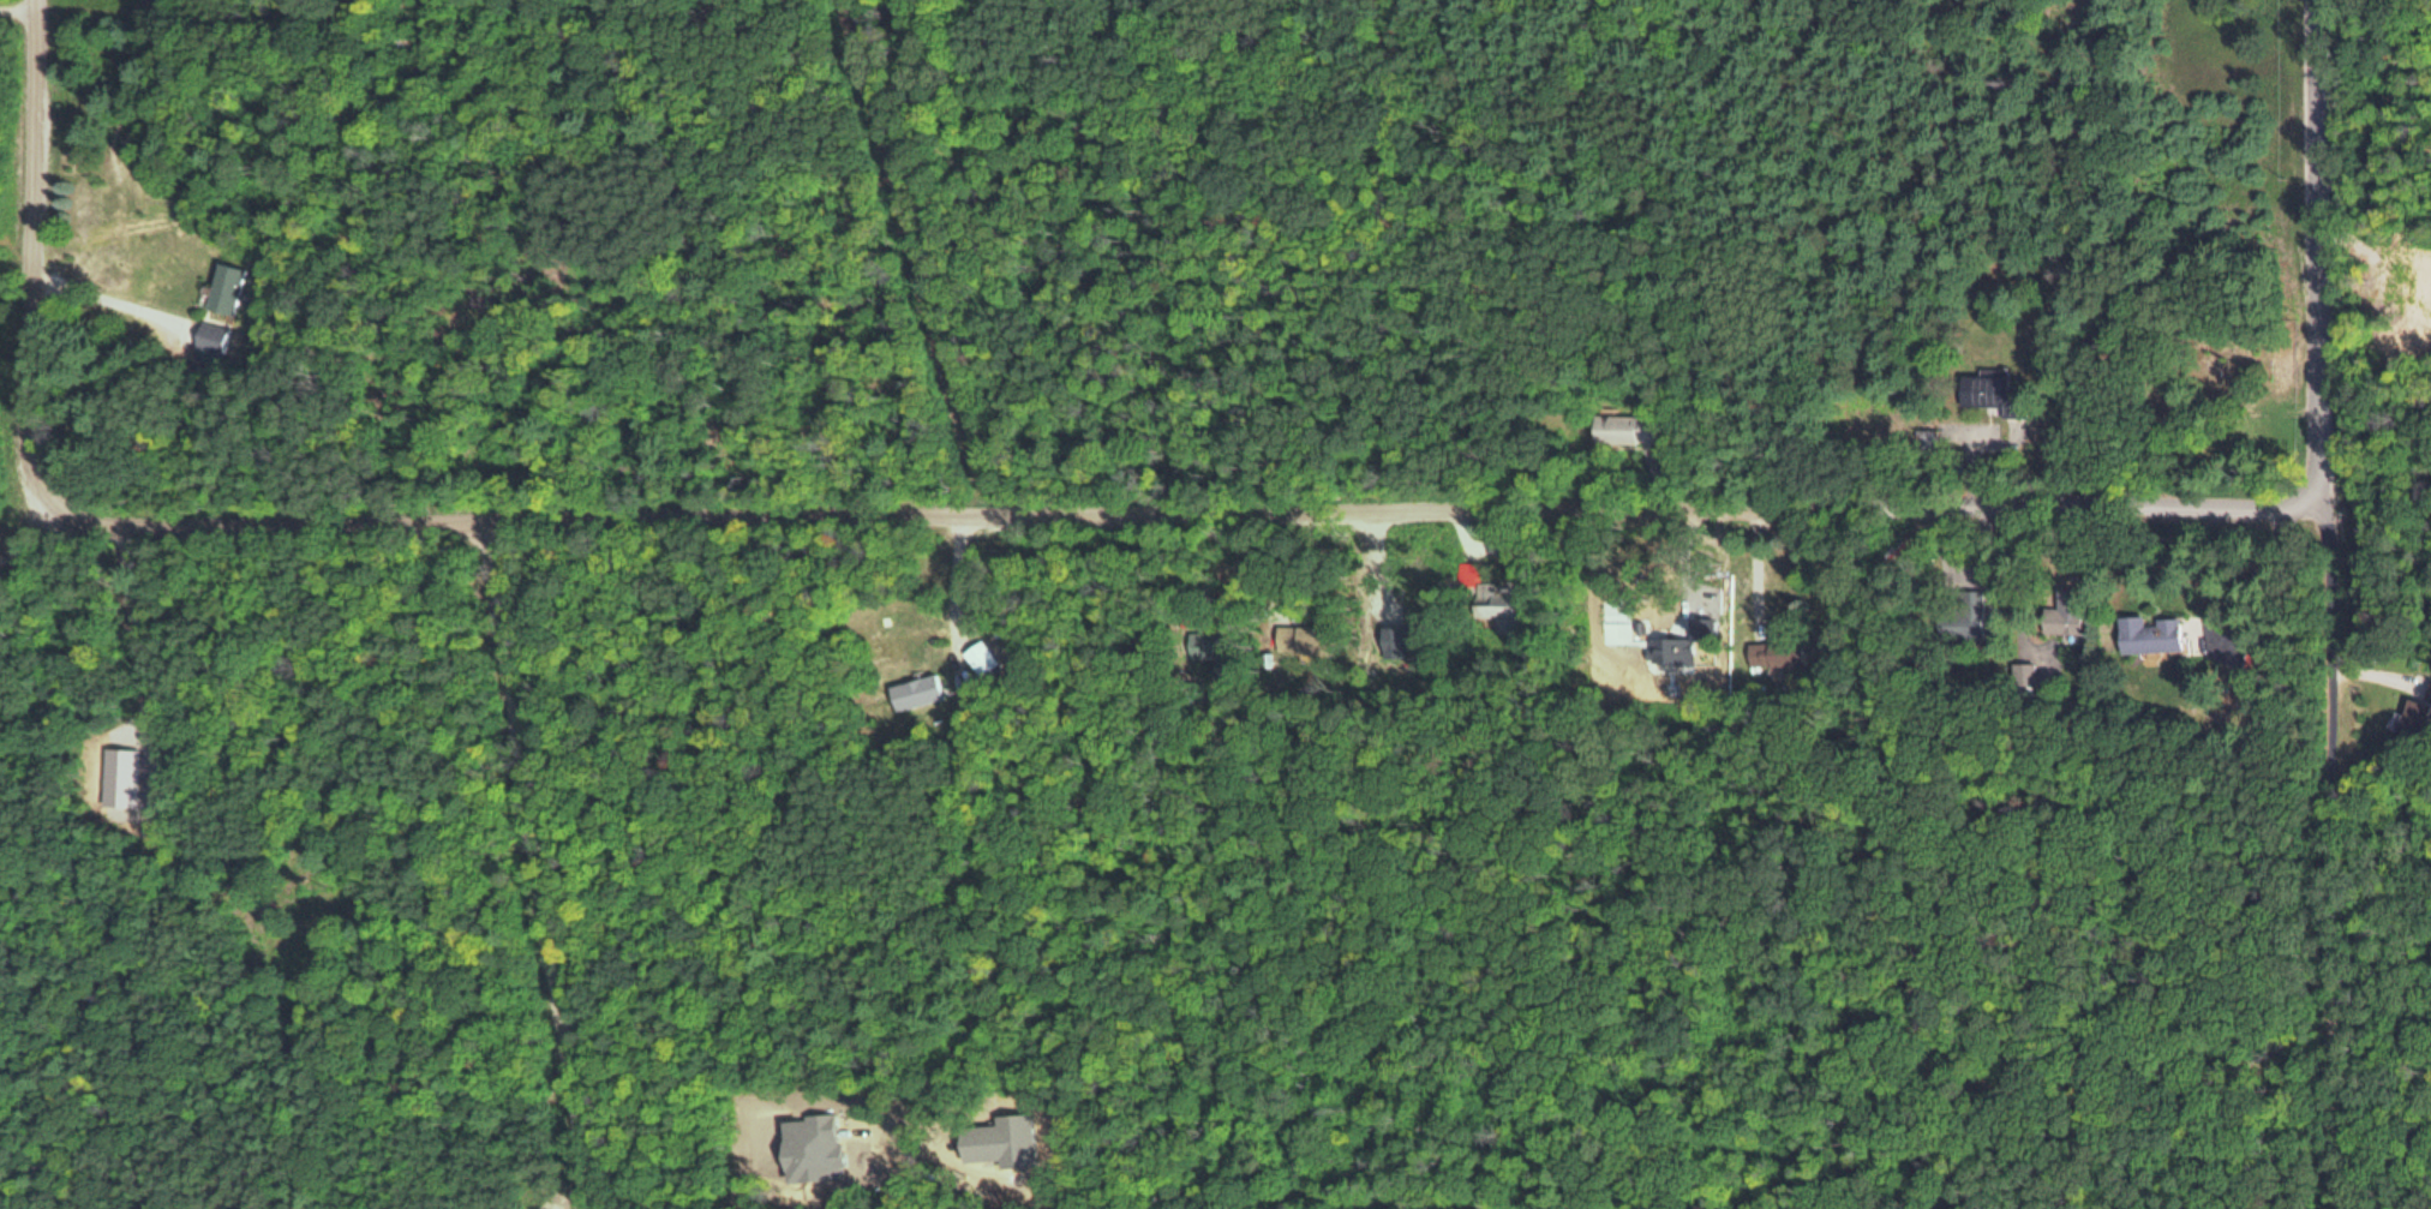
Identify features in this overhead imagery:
road: (2321, 246)
building: (223, 287)
building: (210, 335)
building: (1992, 391)
park: (2205, 396)
building: (1621, 426)
road: (924, 516)
building: (1490, 592)
building: (1958, 612)
building: (2061, 618)
building: (1294, 633)
building: (1394, 633)
building: (2146, 633)
building: (1202, 642)
building: (1669, 648)
building: (1772, 652)
road: (80, 653)
building: (914, 690)
building: (2412, 716)
road: (2324, 851)
road: (540, 864)

